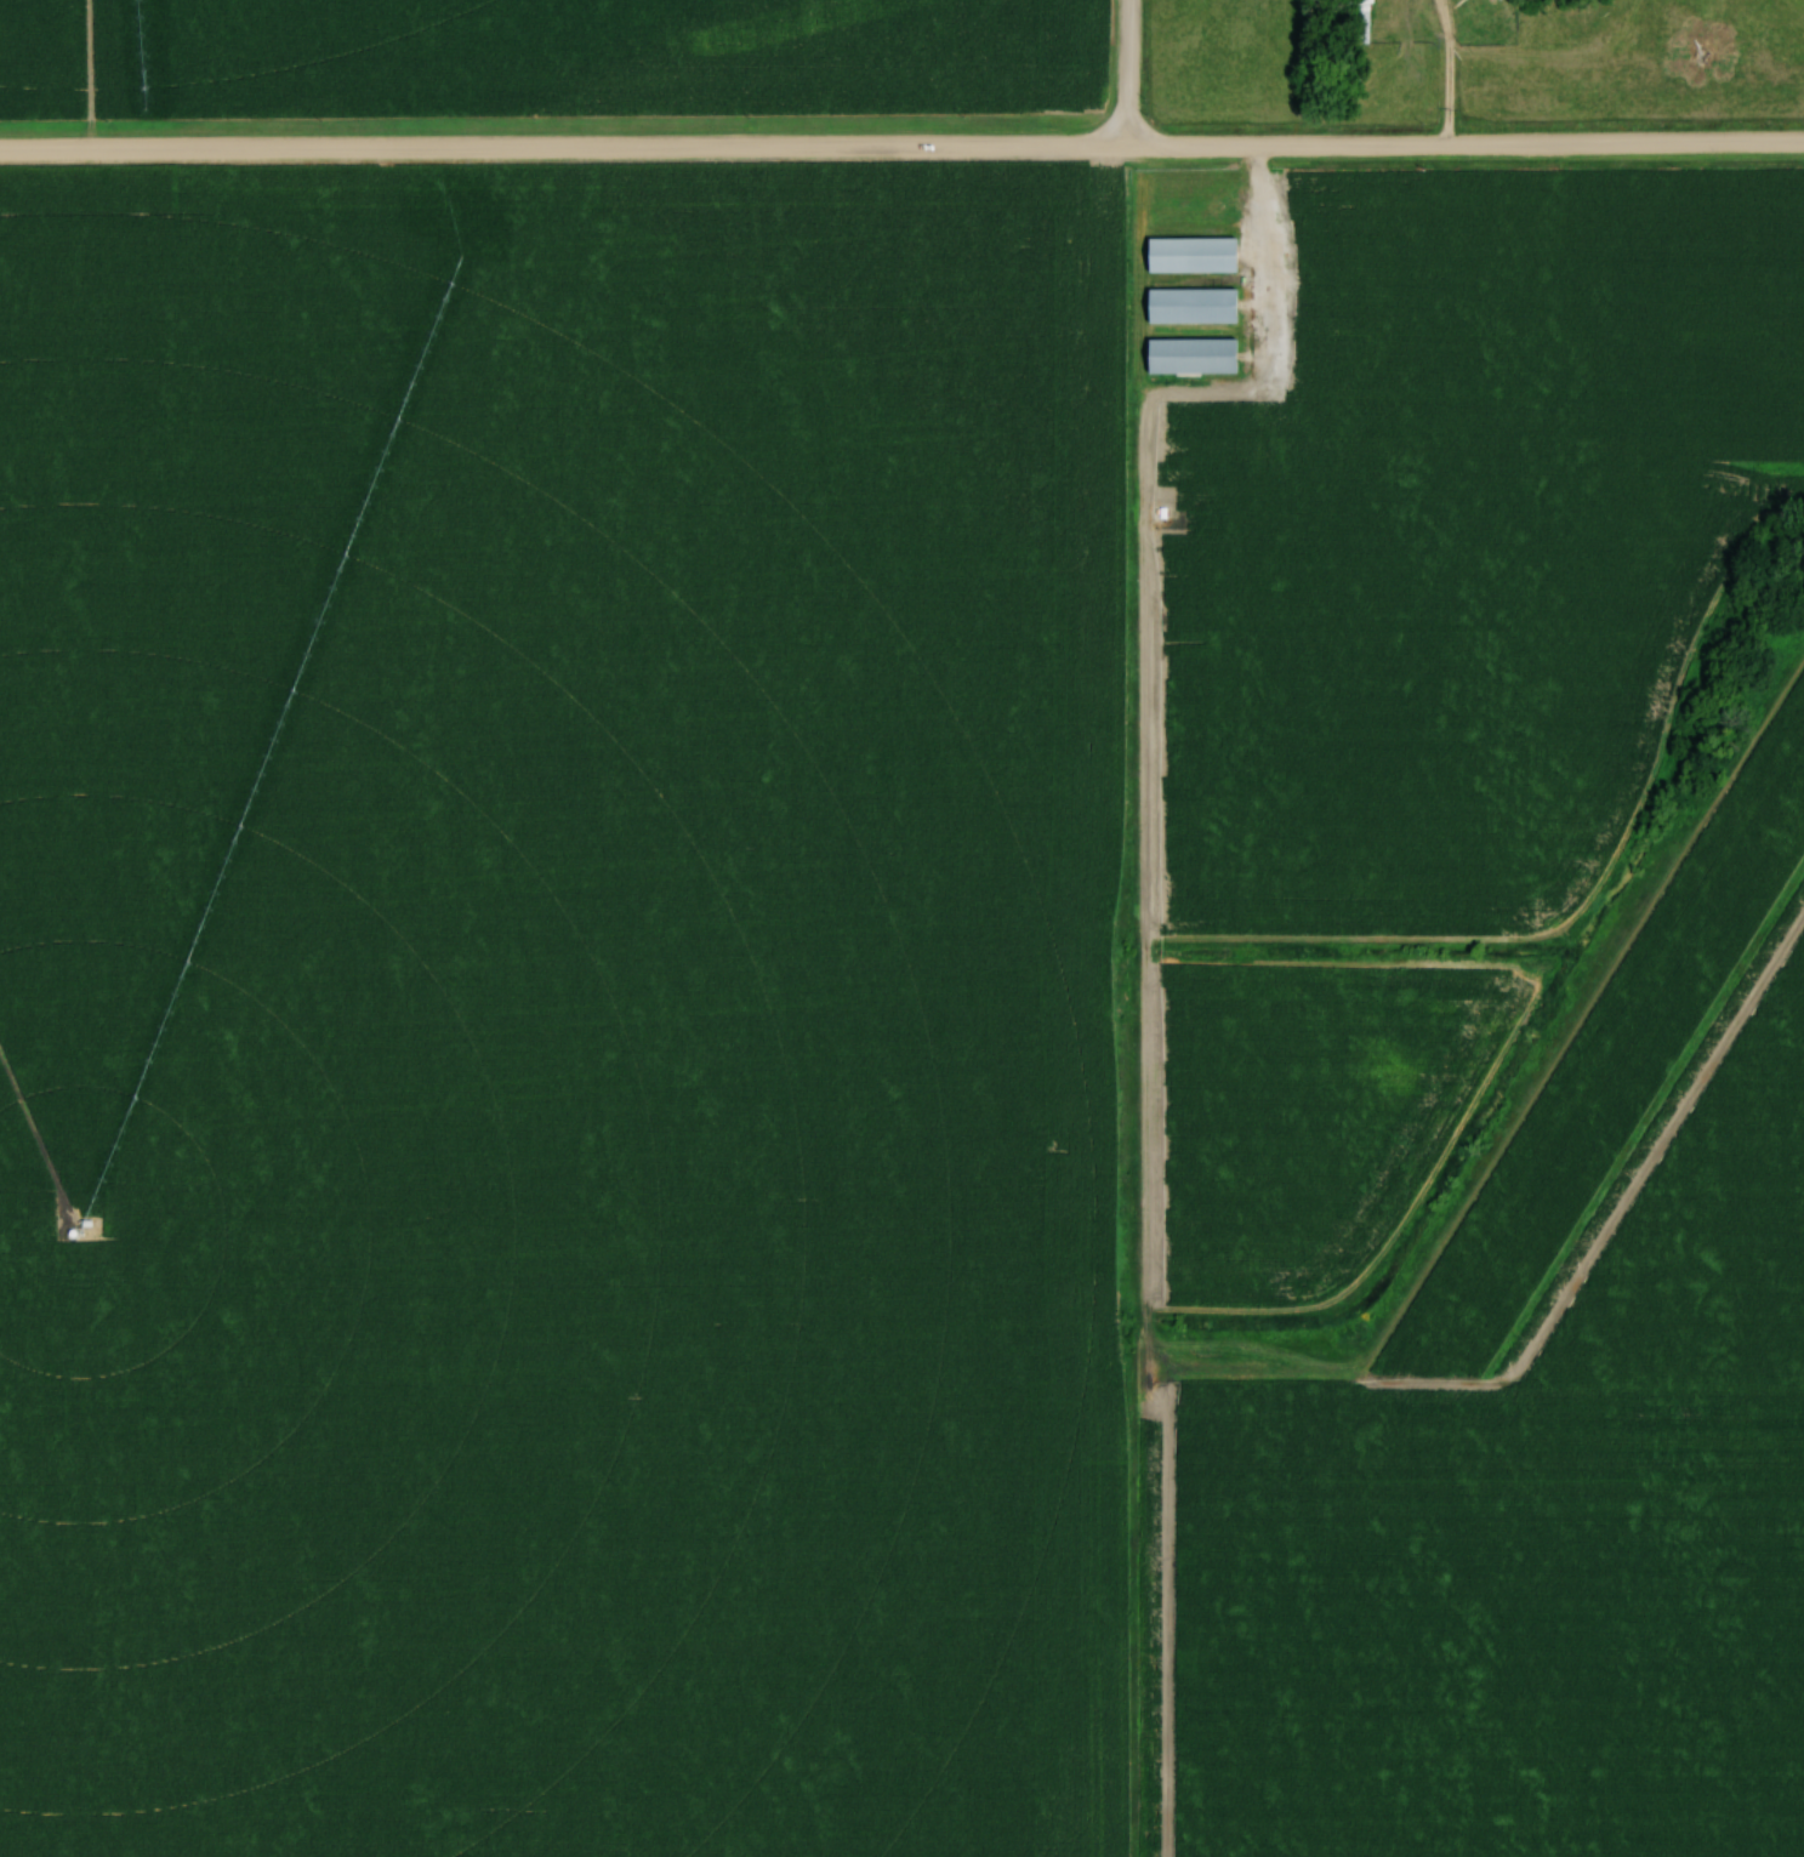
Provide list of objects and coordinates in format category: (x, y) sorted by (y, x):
crop: (550, 61)
road: (1455, 74)
road: (1136, 75)
road: (901, 149)
building: (1195, 255)
building: (1195, 306)
building: (1195, 357)
crop: (542, 1024)

